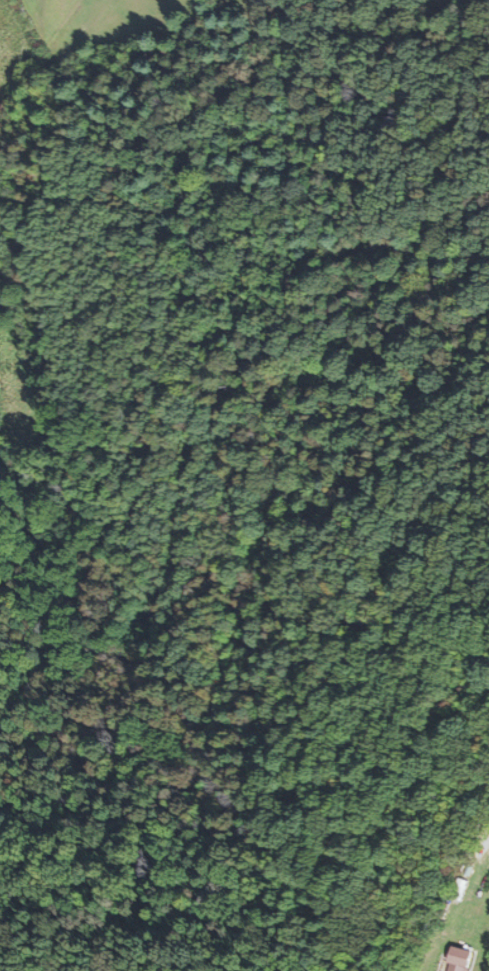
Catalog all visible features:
building: (460, 958)

